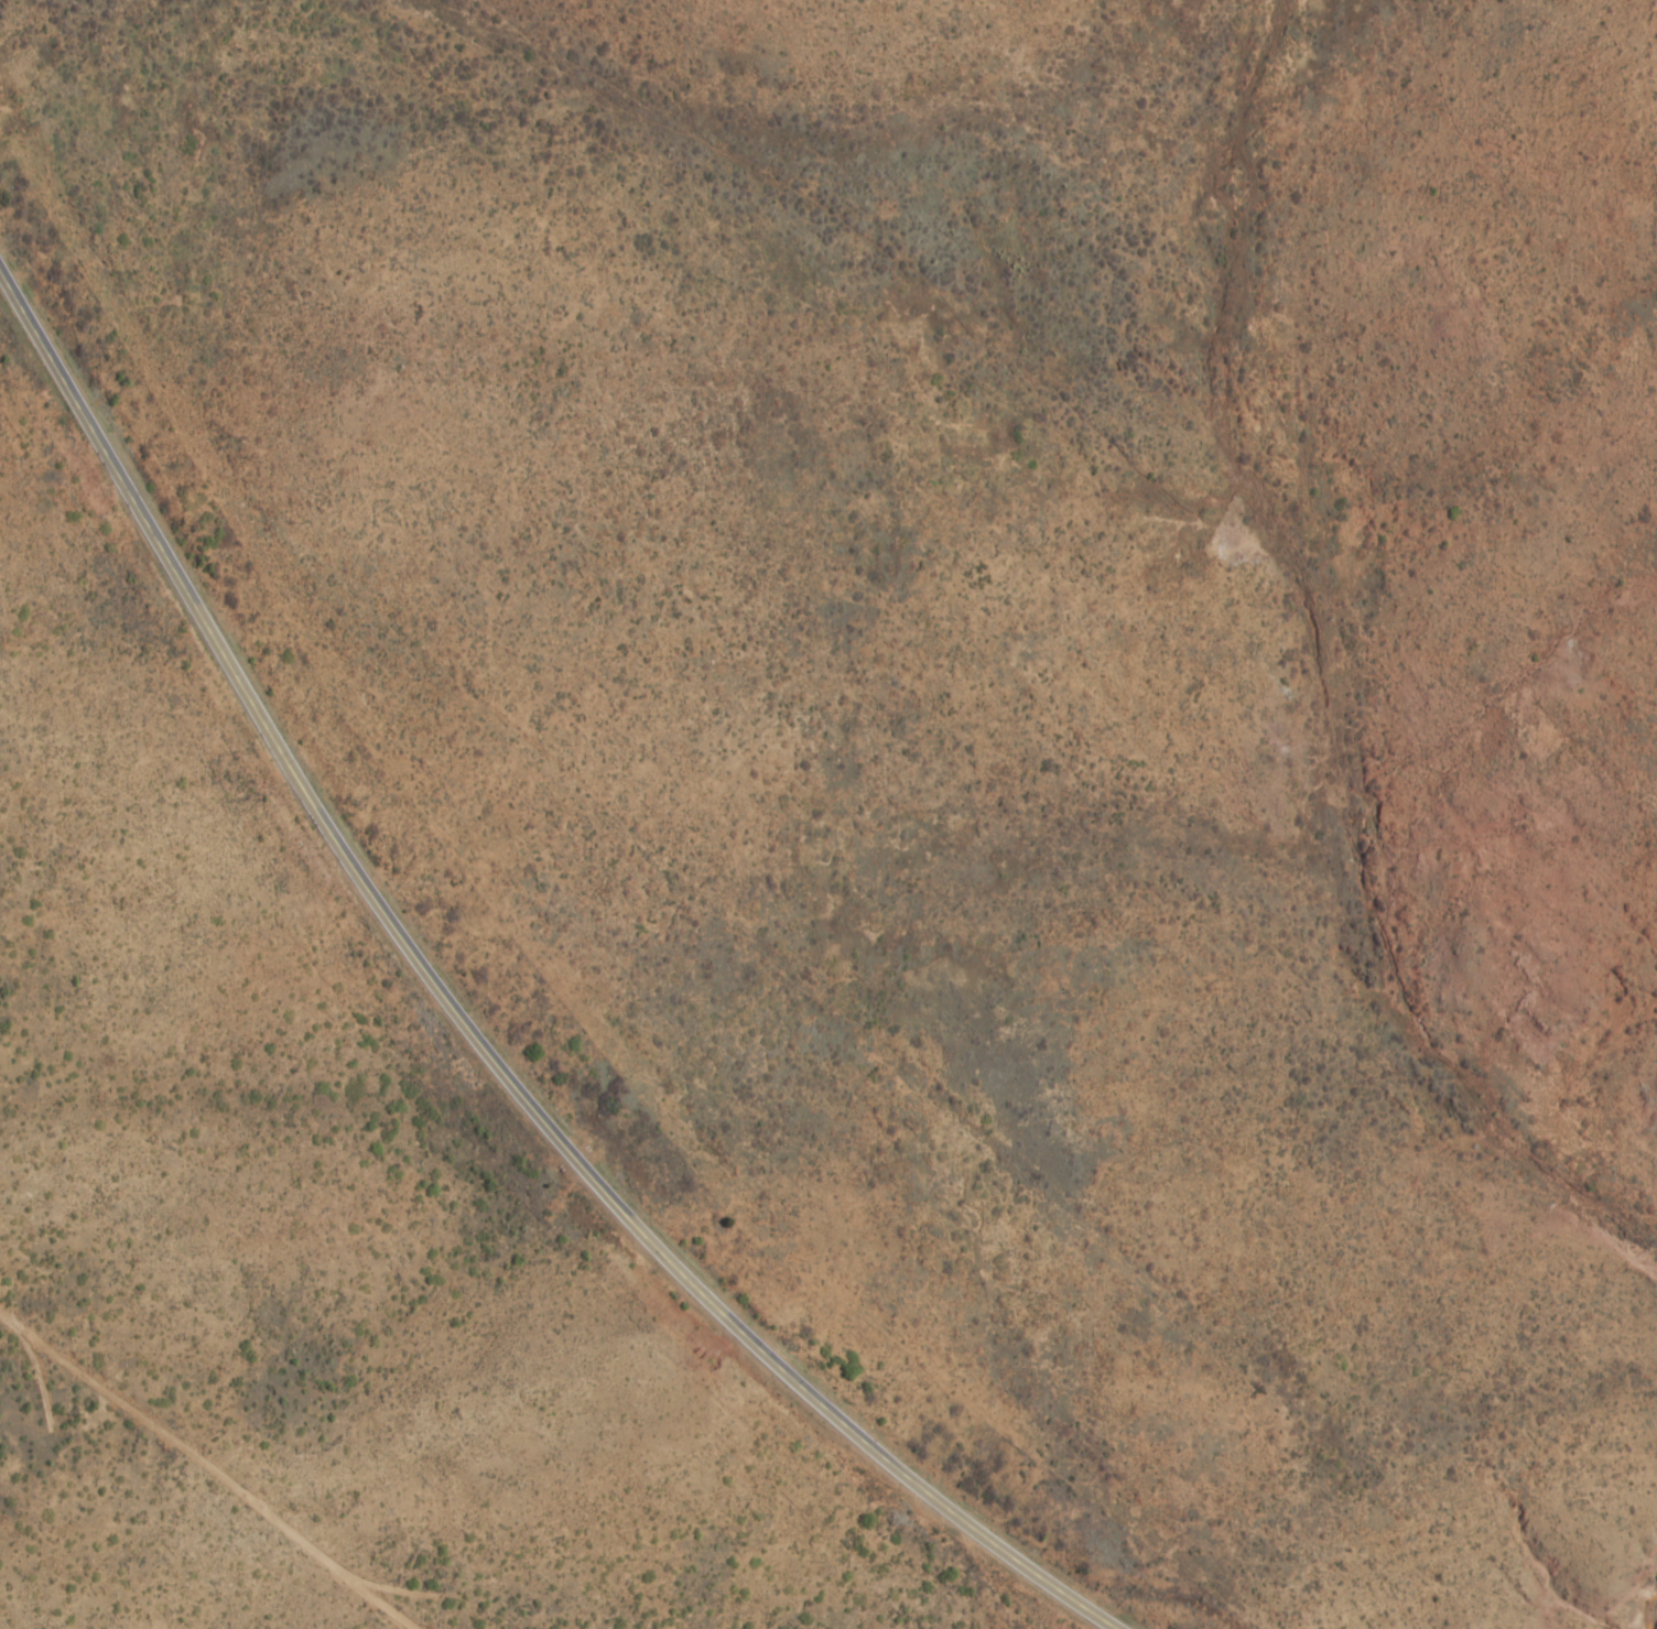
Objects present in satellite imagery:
road: (465, 1029)

